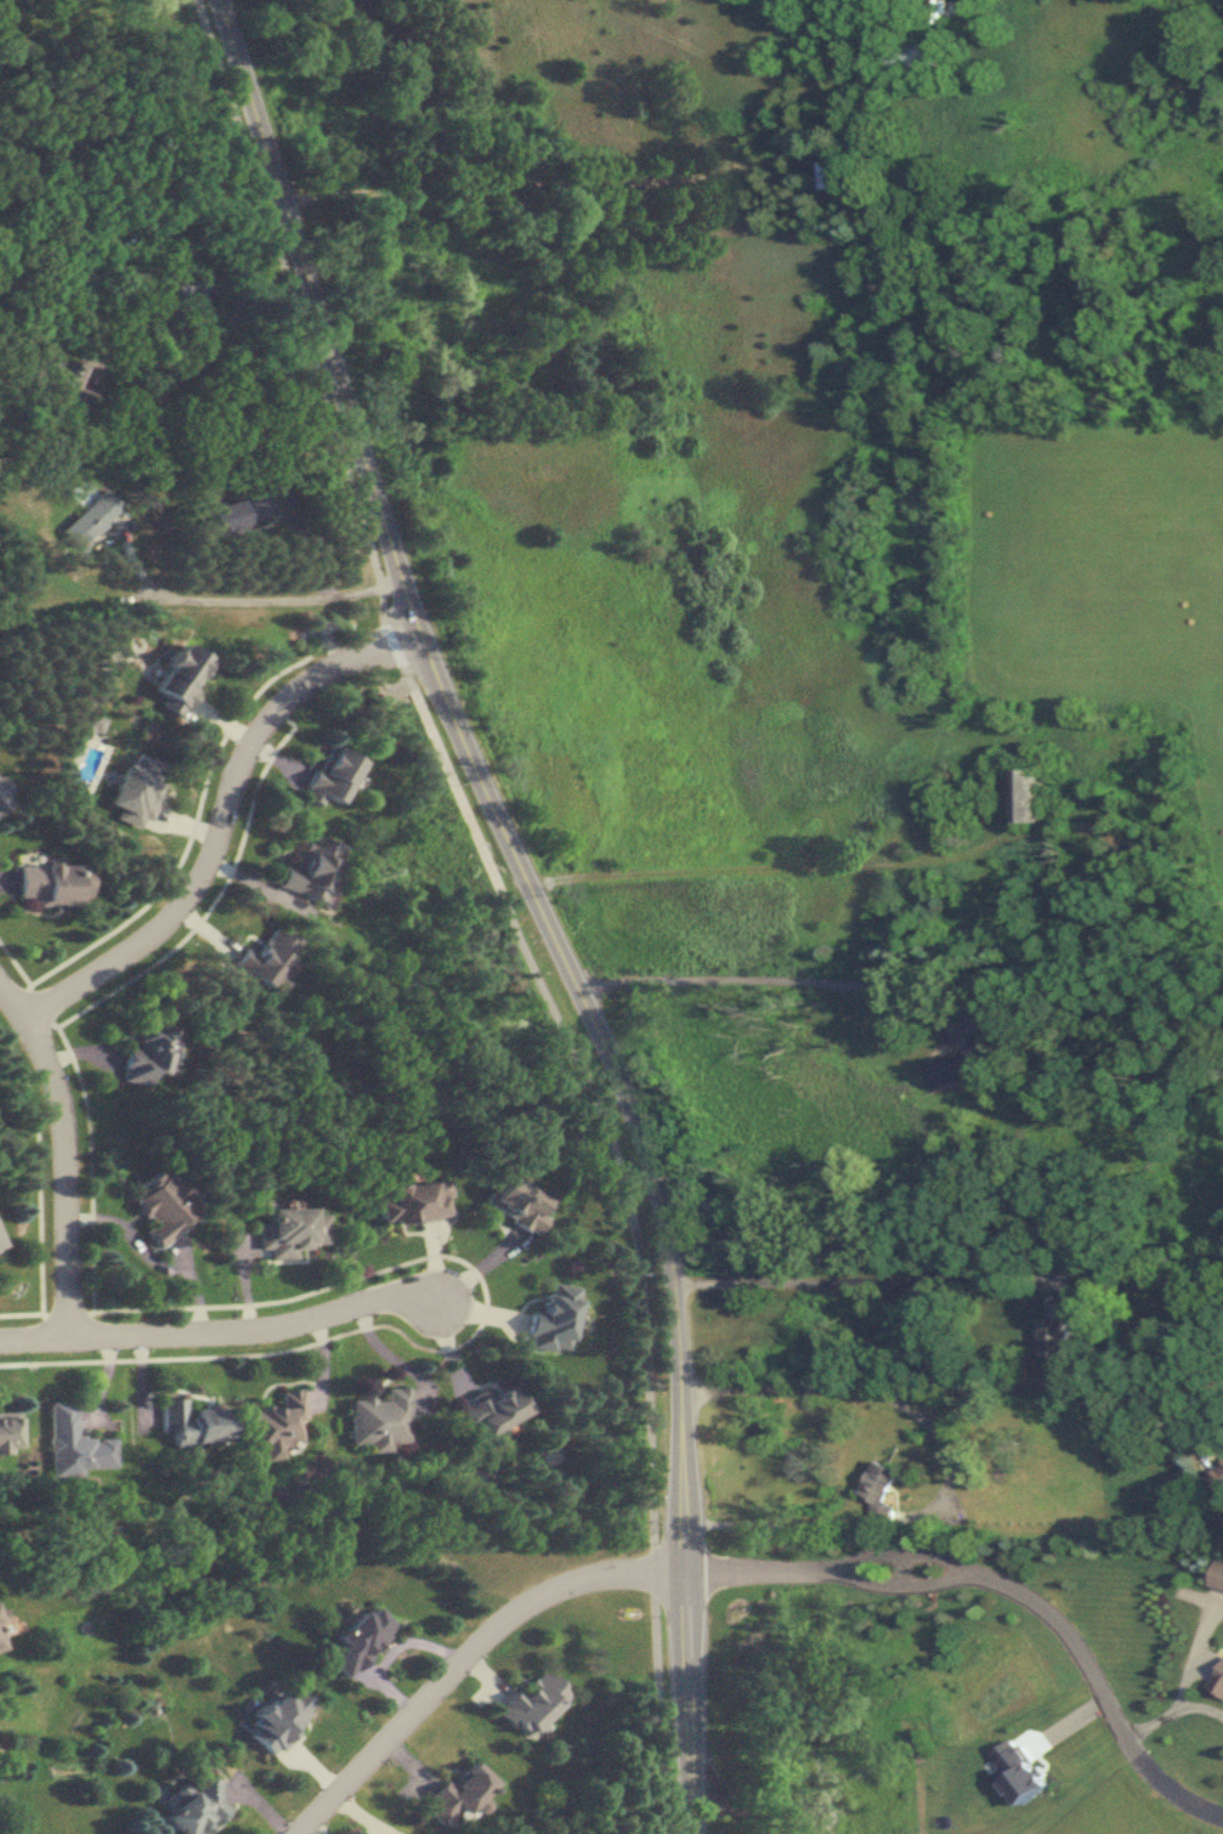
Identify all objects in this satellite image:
building: (946, 11)
building: (849, 51)
building: (916, 57)
road: (593, 177)
building: (845, 177)
building: (193, 285)
road: (304, 336)
road: (223, 362)
building: (60, 381)
building: (234, 514)
building: (92, 517)
road: (244, 594)
building: (180, 680)
building: (87, 726)
building: (332, 775)
building: (134, 789)
road: (458, 794)
building: (1030, 794)
building: (1, 804)
building: (940, 811)
road: (217, 814)
building: (1095, 836)
road: (768, 866)
building: (311, 867)
building: (50, 884)
road: (536, 901)
building: (262, 958)
road: (748, 979)
building: (983, 1048)
building: (145, 1051)
building: (951, 1068)
road: (64, 1148)
building: (413, 1201)
building: (515, 1202)
building: (162, 1206)
building: (288, 1230)
building: (0, 1245)
road: (853, 1280)
building: (553, 1319)
building: (1059, 1329)
road: (221, 1330)
road: (644, 1362)
road: (908, 1391)
road: (1180, 1391)
building: (492, 1409)
building: (381, 1420)
building: (191, 1422)
building: (274, 1423)
building: (9, 1433)
building: (74, 1444)
road: (945, 1451)
building: (1217, 1481)
building: (882, 1491)
building: (1218, 1575)
road: (1001, 1579)
building: (1, 1619)
building: (357, 1640)
building: (0, 1646)
road: (463, 1659)
road: (1187, 1679)
building: (1219, 1685)
road: (1202, 1702)
building: (532, 1703)
building: (277, 1719)
building: (459, 1795)
road: (721, 1804)
building: (194, 1808)

